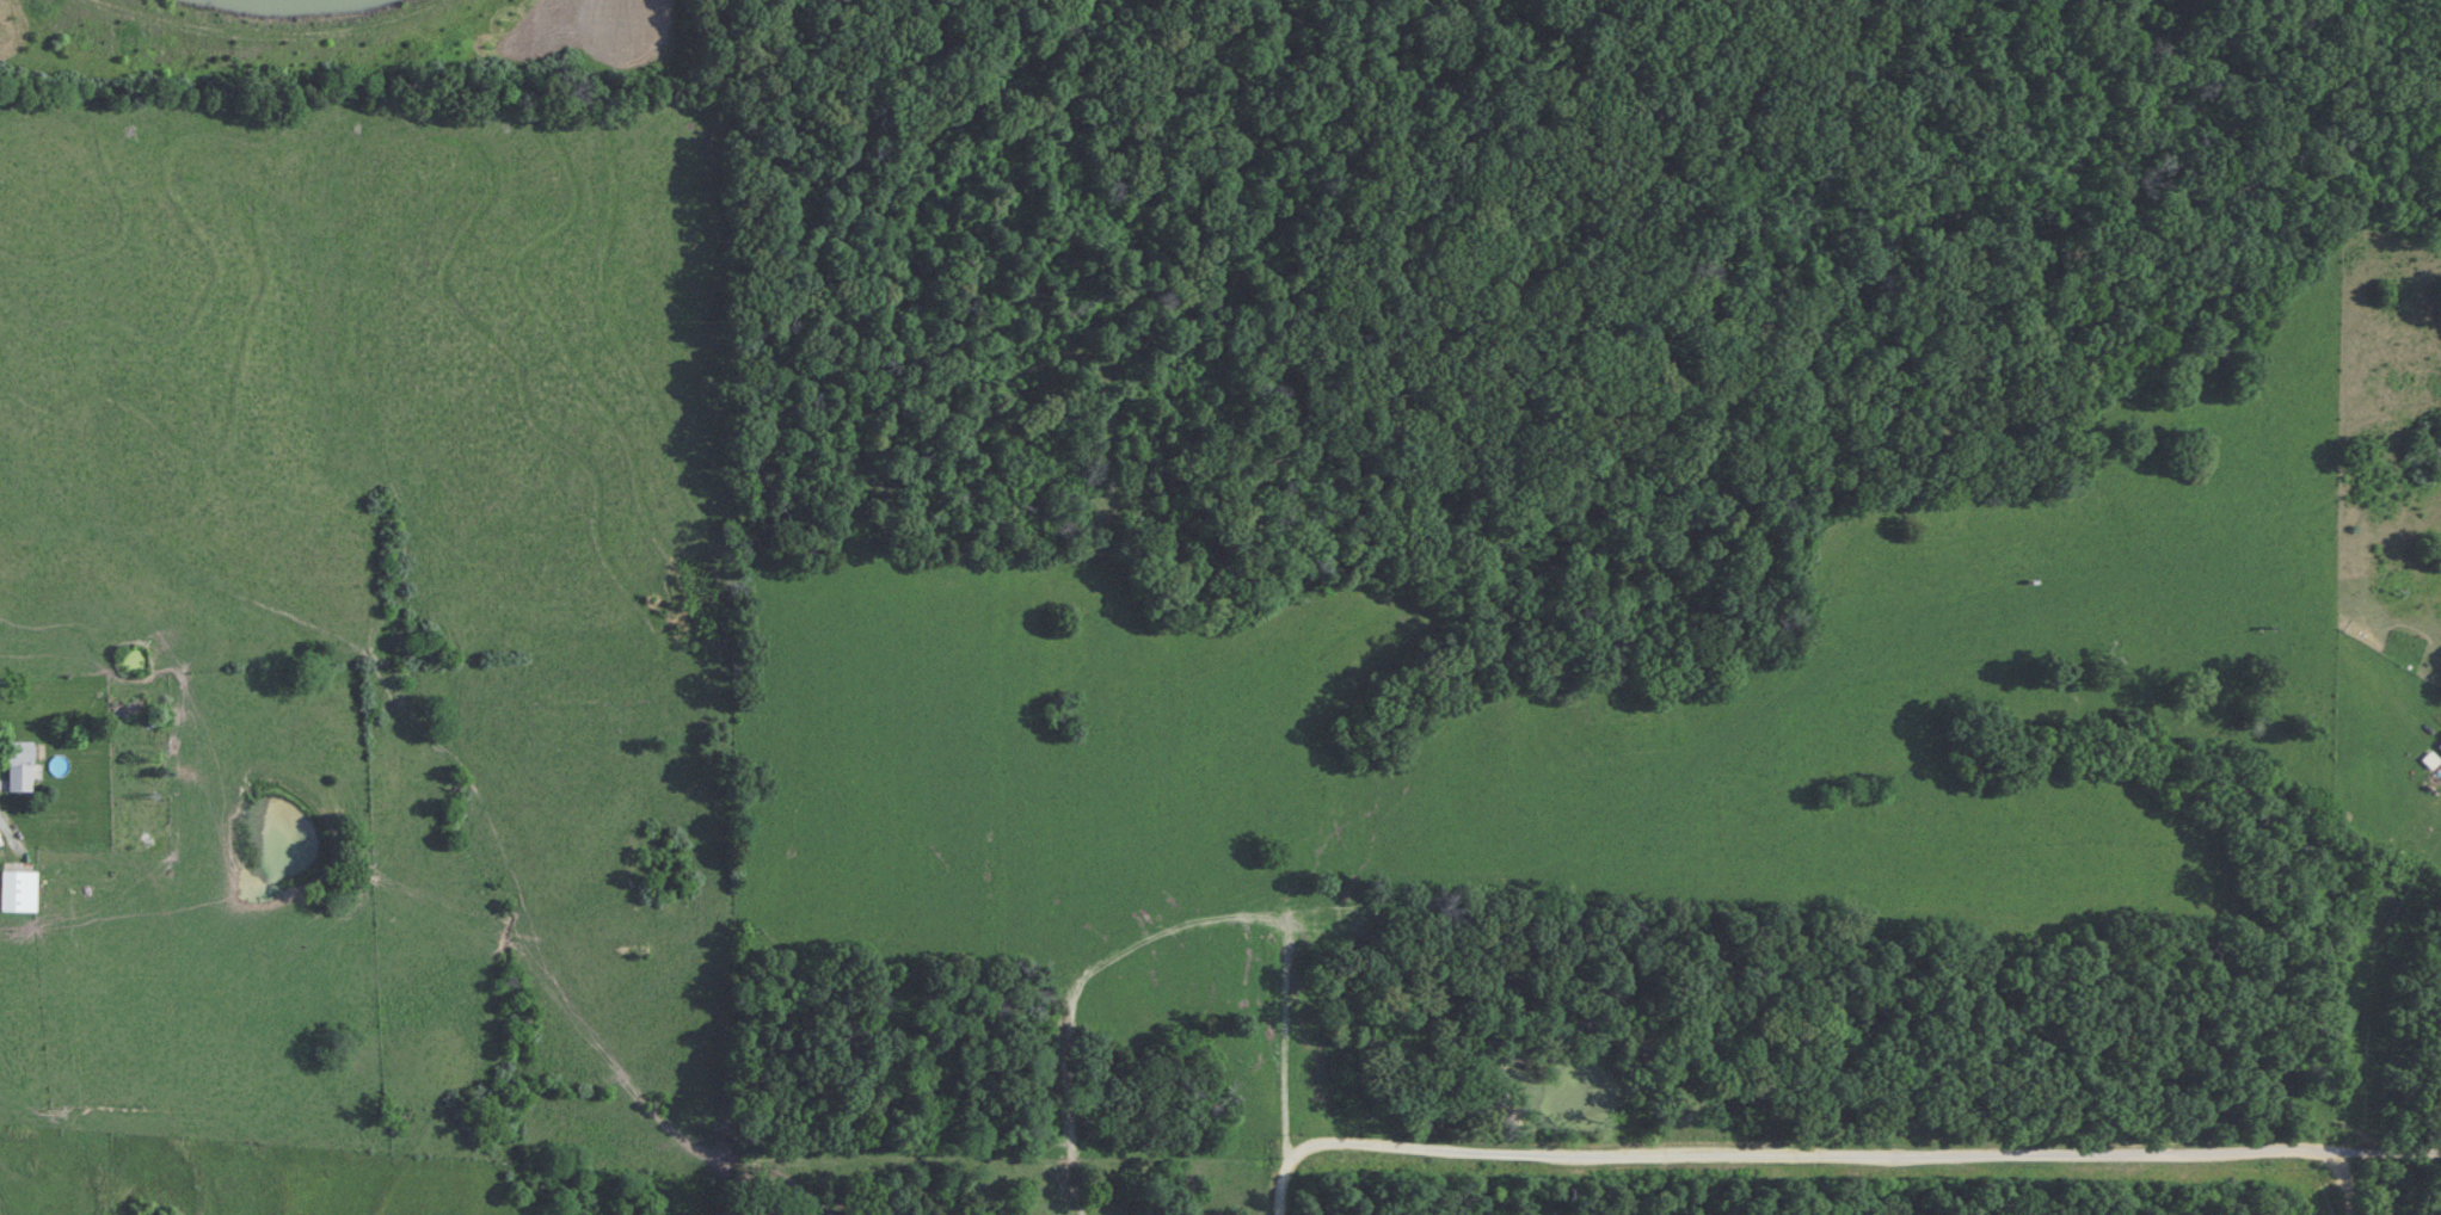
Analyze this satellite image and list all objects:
building: (18, 765)
road: (67, 857)
building: (17, 890)
road: (2385, 1151)
road: (1776, 1152)
road: (2342, 1183)

